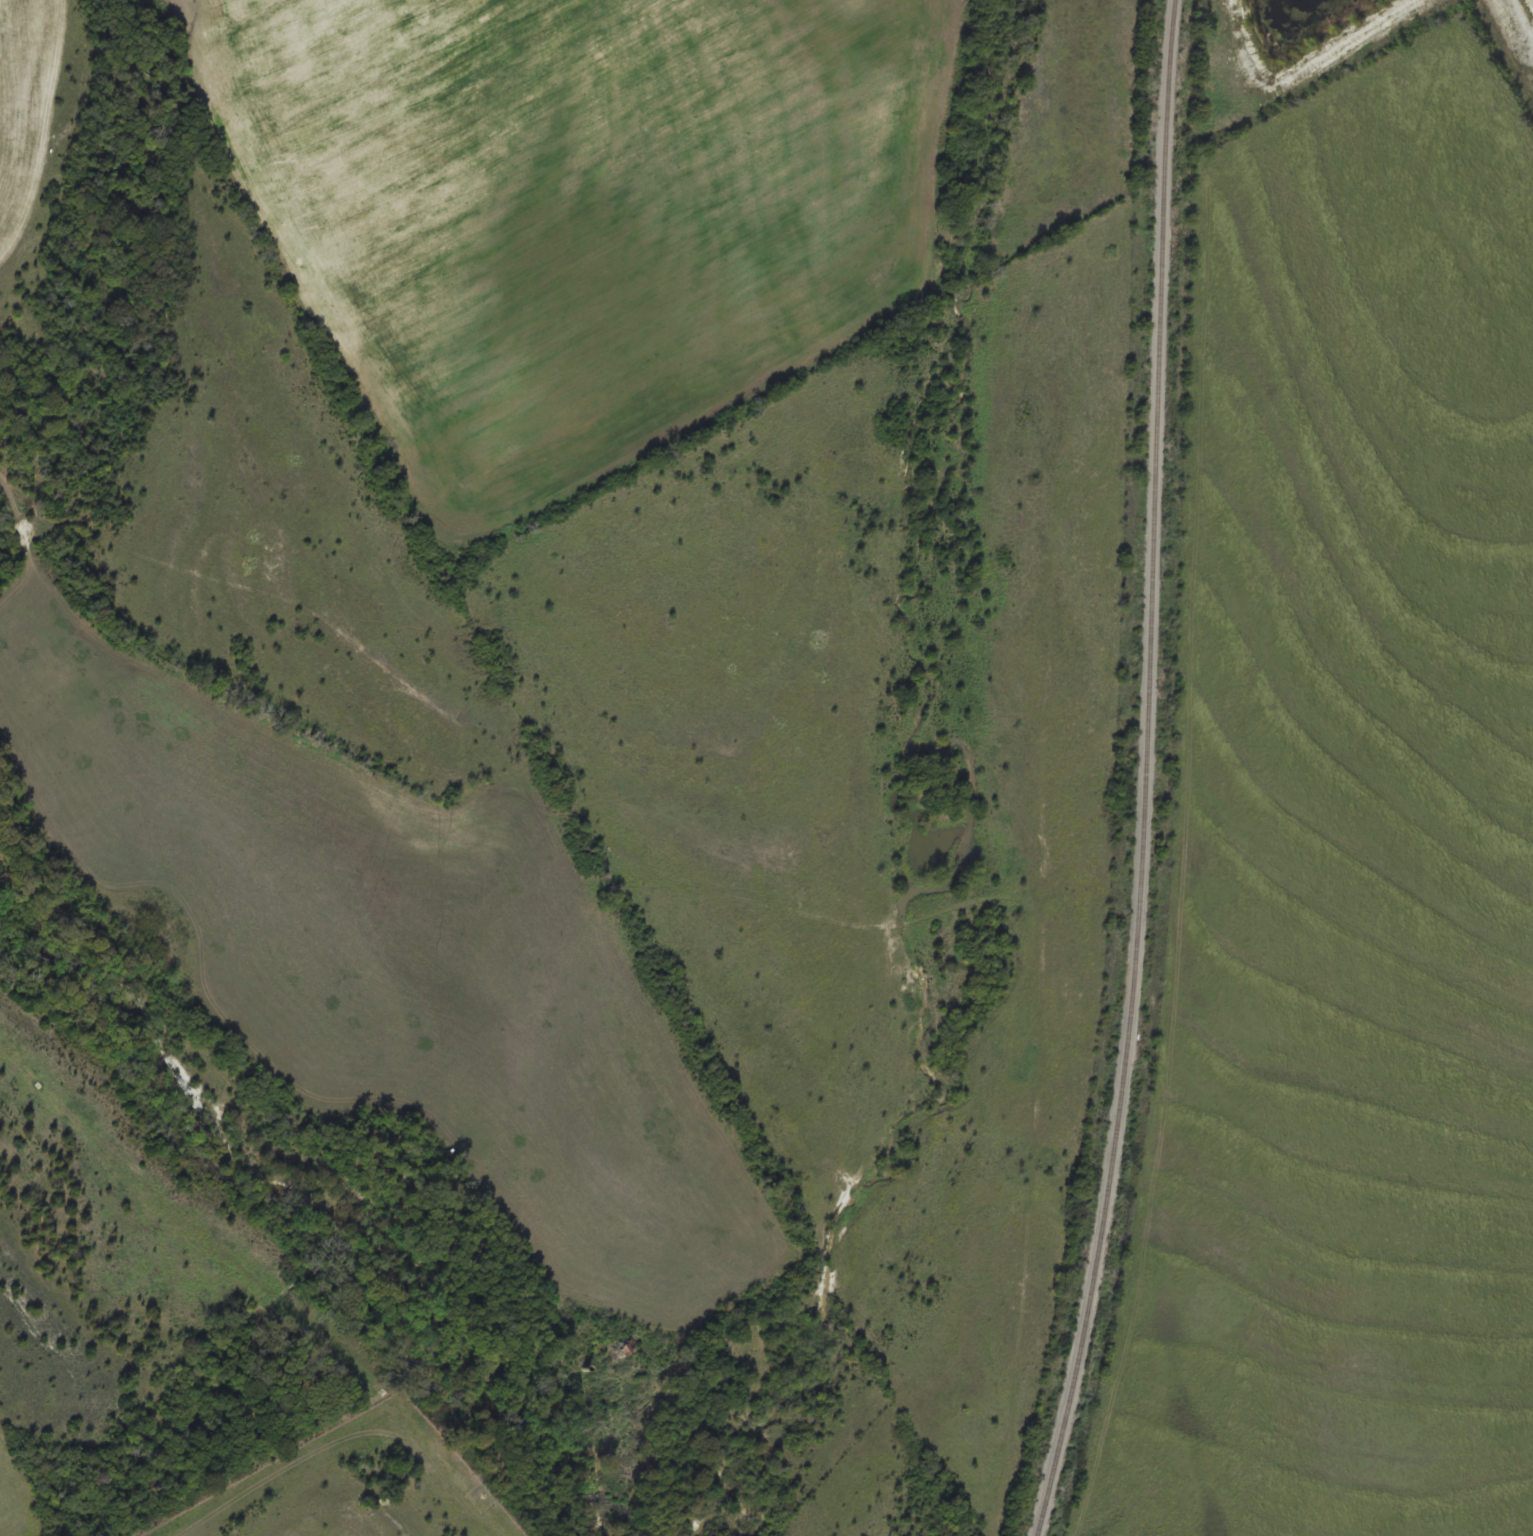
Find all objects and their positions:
railway: (1146, 772)

